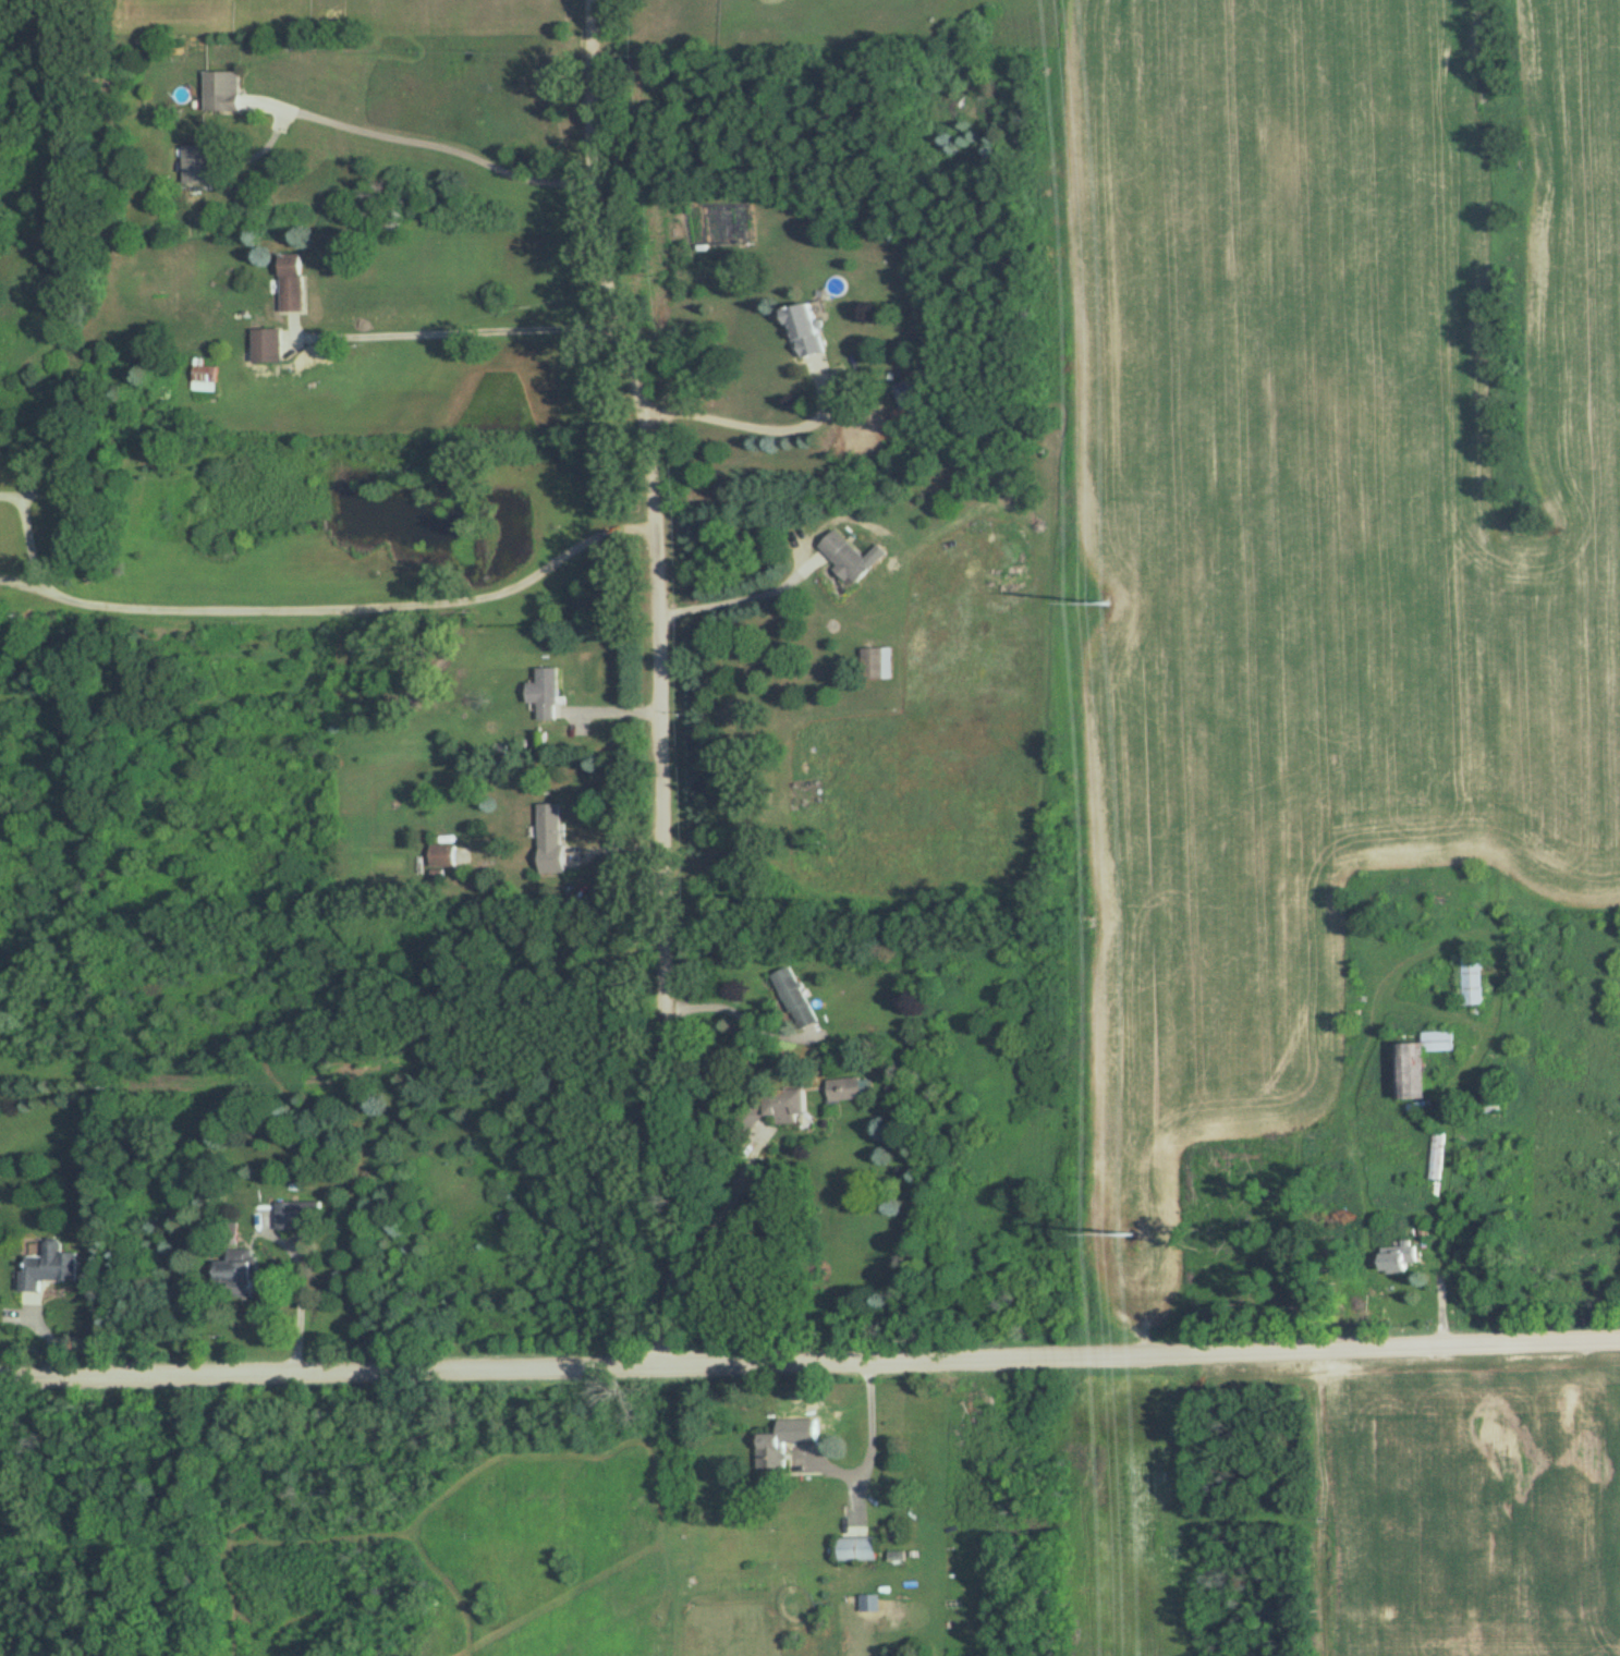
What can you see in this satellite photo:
building: (220, 89)
road: (419, 145)
building: (290, 282)
road: (453, 328)
building: (801, 330)
building: (266, 345)
building: (205, 374)
building: (910, 390)
road: (755, 423)
building: (844, 556)
road: (743, 598)
power tower: (1109, 601)
road: (306, 609)
building: (876, 662)
road: (655, 675)
building: (544, 693)
building: (549, 839)
building: (441, 854)
building: (1471, 979)
building: (795, 997)
road: (744, 1018)
building: (1416, 1062)
building: (842, 1088)
building: (776, 1105)
building: (260, 1153)
road: (732, 1196)
building: (299, 1214)
power tower: (1134, 1234)
building: (1390, 1262)
building: (47, 1266)
building: (235, 1270)
road: (300, 1290)
road: (809, 1355)
road: (869, 1416)
building: (768, 1449)
building: (856, 1547)

